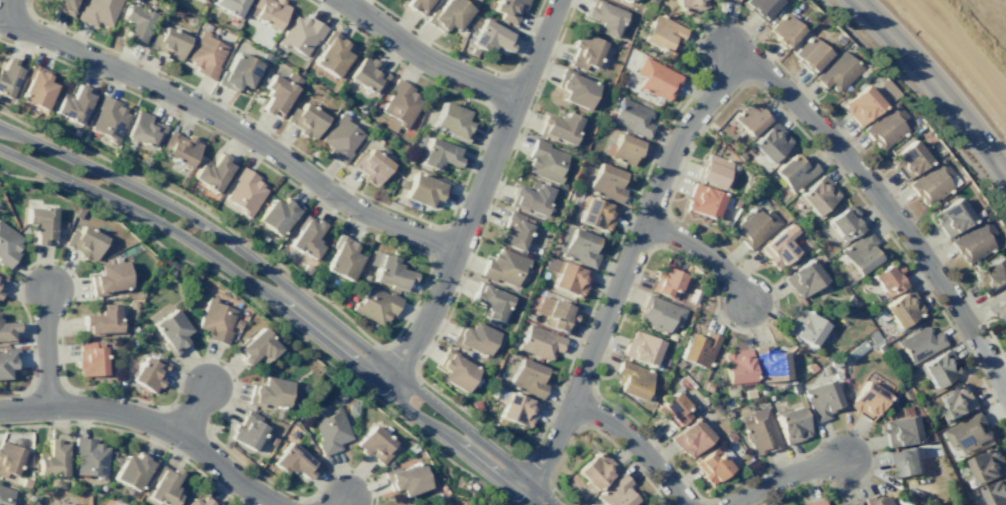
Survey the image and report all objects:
building: (200, 0)
building: (627, 0)
building: (720, 0)
building: (733, 0)
building: (417, 5)
building: (689, 5)
building: (64, 6)
building: (230, 6)
building: (760, 7)
building: (508, 9)
building: (98, 11)
building: (267, 12)
building: (447, 15)
building: (603, 16)
building: (135, 24)
road: (702, 28)
building: (783, 30)
building: (661, 33)
building: (299, 34)
building: (490, 37)
building: (838, 39)
building: (168, 43)
road: (537, 49)
building: (584, 51)
building: (331, 54)
building: (810, 54)
building: (204, 55)
building: (266, 57)
road: (426, 58)
road: (472, 61)
building: (836, 71)
building: (237, 73)
building: (366, 74)
building: (8, 75)
building: (655, 78)
road: (935, 83)
building: (36, 87)
building: (574, 88)
building: (887, 88)
building: (278, 93)
road: (922, 103)
building: (73, 104)
building: (399, 105)
building: (861, 105)
building: (107, 118)
building: (631, 118)
building: (750, 118)
building: (305, 119)
building: (452, 122)
road: (229, 123)
building: (884, 126)
building: (558, 127)
building: (142, 129)
building: (339, 138)
building: (769, 141)
building: (179, 148)
building: (622, 149)
building: (439, 154)
building: (544, 160)
building: (907, 160)
road: (263, 164)
building: (370, 165)
building: (711, 170)
building: (213, 172)
building: (794, 172)
road: (844, 178)
building: (930, 182)
building: (606, 183)
road: (498, 188)
building: (424, 189)
building: (244, 191)
building: (816, 195)
building: (530, 198)
building: (703, 200)
road: (882, 201)
road: (376, 202)
road: (202, 210)
building: (77, 212)
building: (278, 214)
building: (596, 214)
building: (951, 217)
building: (844, 223)
building: (41, 224)
road: (689, 225)
building: (755, 227)
building: (514, 230)
building: (306, 237)
building: (972, 241)
building: (84, 242)
road: (455, 246)
building: (778, 246)
building: (8, 247)
building: (577, 247)
road: (702, 251)
building: (859, 252)
building: (342, 258)
building: (503, 267)
building: (305, 270)
road: (70, 271)
building: (390, 273)
road: (620, 276)
building: (990, 276)
building: (566, 277)
building: (803, 277)
building: (1, 278)
building: (108, 278)
building: (888, 278)
building: (665, 281)
road: (16, 288)
road: (291, 292)
building: (691, 295)
building: (489, 301)
building: (998, 303)
road: (278, 305)
building: (376, 305)
building: (902, 307)
road: (267, 313)
building: (554, 313)
building: (659, 314)
road: (620, 317)
building: (101, 319)
building: (215, 321)
building: (236, 324)
building: (805, 327)
building: (171, 331)
building: (7, 332)
building: (473, 338)
building: (875, 341)
building: (539, 342)
building: (919, 345)
road: (45, 347)
building: (255, 347)
building: (641, 348)
building: (698, 349)
building: (856, 349)
building: (90, 359)
building: (7, 360)
building: (833, 362)
road: (30, 363)
building: (769, 364)
building: (665, 365)
building: (737, 366)
building: (809, 367)
building: (939, 368)
building: (824, 369)
building: (455, 370)
road: (180, 371)
building: (148, 373)
building: (835, 375)
road: (235, 378)
building: (527, 378)
building: (631, 379)
building: (795, 388)
road: (89, 389)
building: (268, 392)
building: (820, 399)
building: (867, 400)
building: (957, 403)
road: (191, 409)
building: (516, 409)
building: (671, 410)
road: (468, 415)
road: (151, 419)
building: (791, 424)
building: (900, 430)
building: (247, 431)
building: (331, 431)
road: (856, 431)
building: (759, 432)
road: (131, 433)
building: (969, 433)
road: (604, 437)
building: (690, 437)
building: (729, 437)
road: (635, 443)
building: (374, 444)
building: (9, 458)
building: (53, 458)
building: (90, 458)
building: (293, 461)
building: (905, 462)
building: (712, 466)
building: (988, 466)
road: (250, 469)
building: (133, 470)
building: (595, 470)
road: (783, 473)
road: (365, 476)
road: (322, 477)
building: (405, 479)
road: (817, 483)
building: (163, 486)
building: (615, 492)
building: (996, 493)
building: (5, 495)
road: (559, 496)
building: (878, 500)
building: (201, 501)
road: (340, 501)
building: (814, 502)
building: (852, 503)
building: (68, 504)
building: (108, 504)
building: (476, 504)
building: (649, 504)

